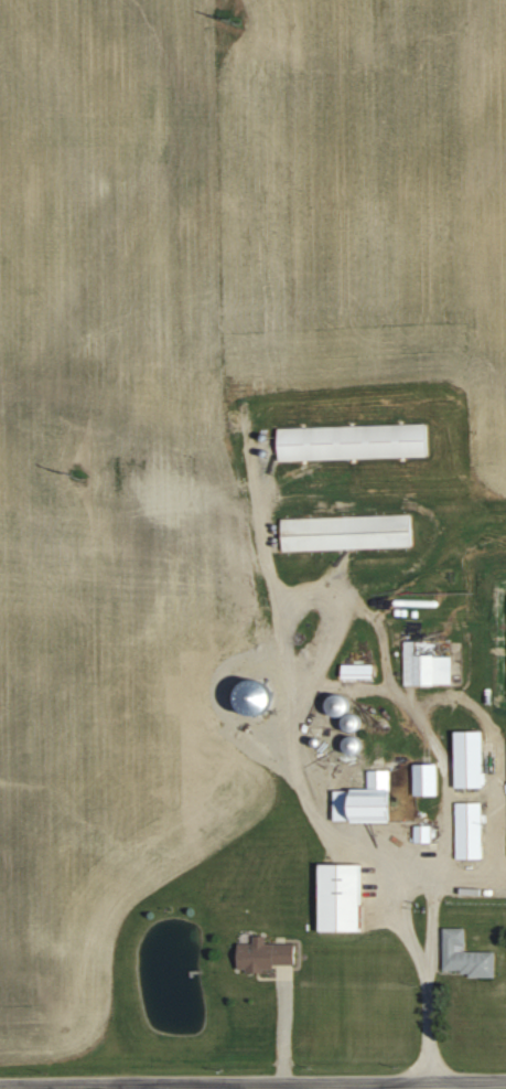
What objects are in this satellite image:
power tower: (238, 20)
building: (353, 440)
power tower: (86, 473)
building: (346, 531)
road: (334, 611)
building: (427, 665)
building: (358, 670)
road: (290, 686)
building: (337, 704)
building: (352, 720)
road: (428, 724)
building: (351, 745)
building: (470, 757)
building: (426, 778)
building: (366, 799)
building: (470, 829)
road: (497, 845)
building: (341, 897)
road: (432, 917)
building: (265, 954)
building: (465, 954)
road: (252, 1079)

